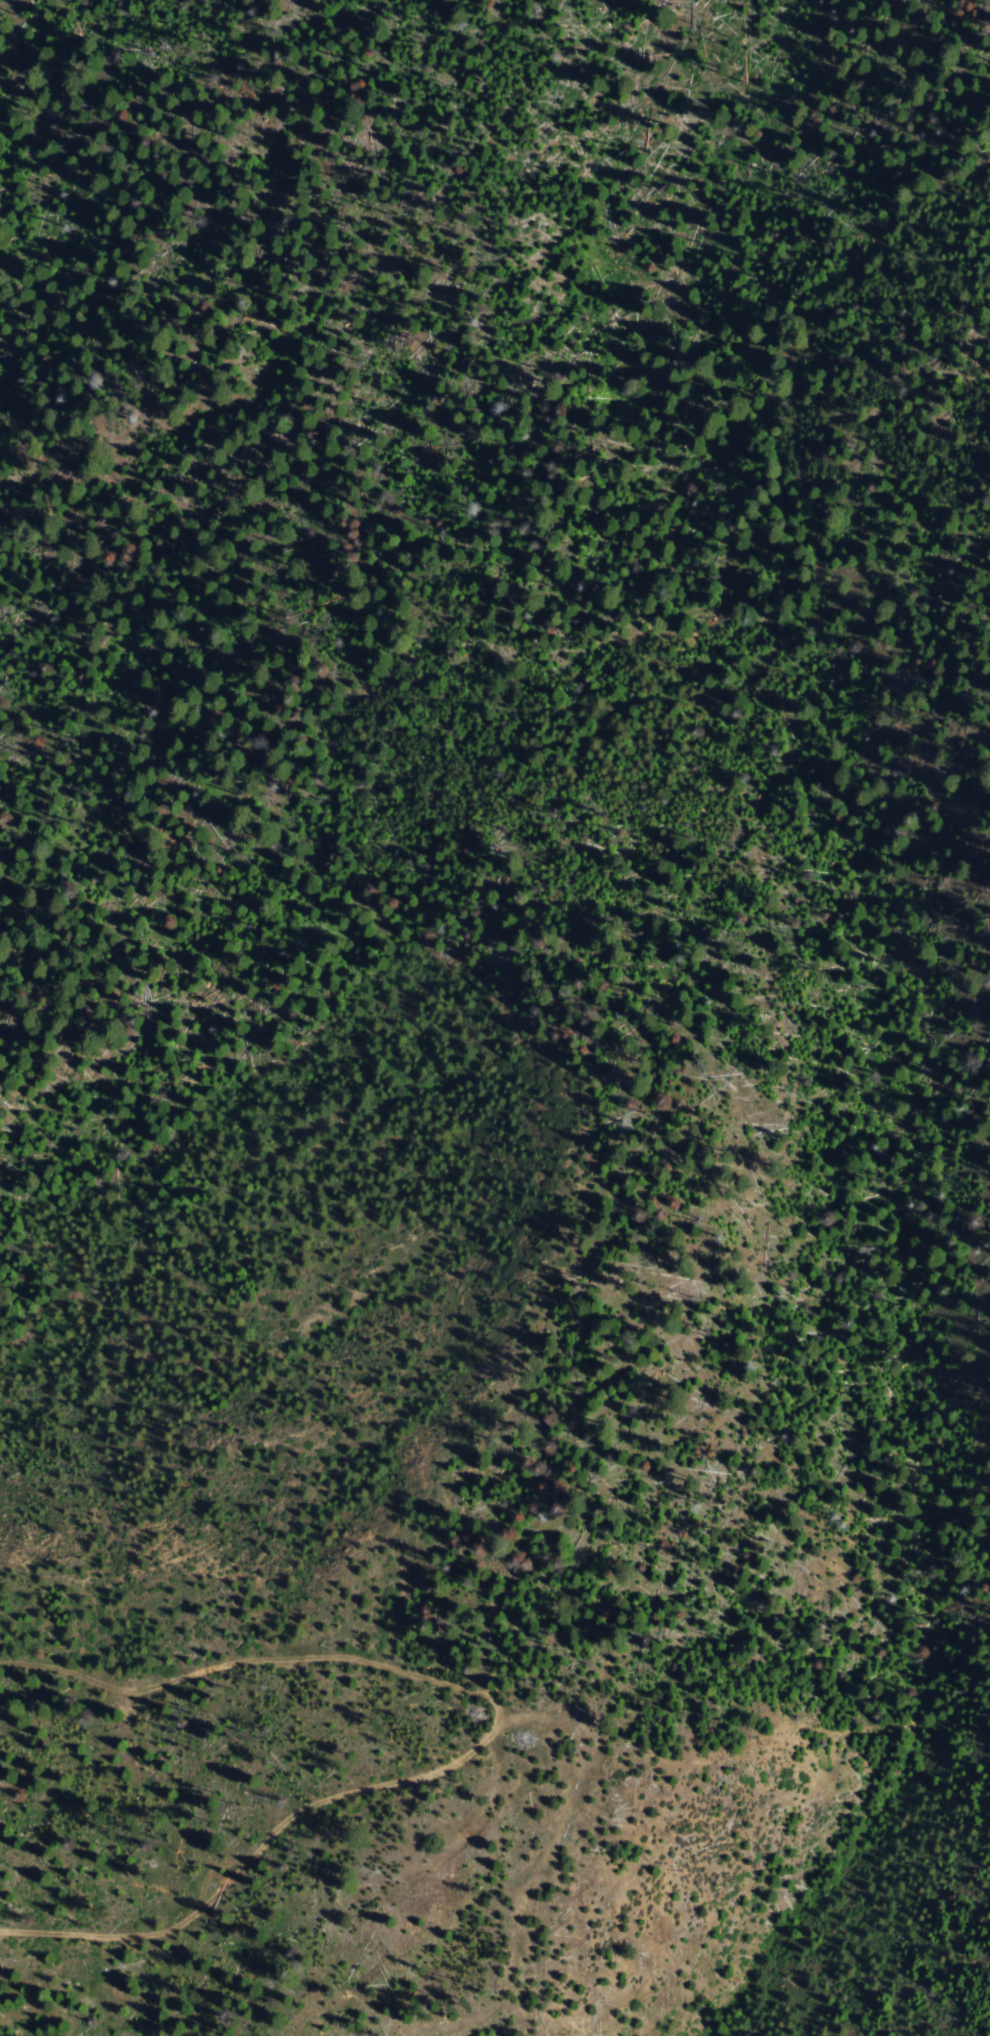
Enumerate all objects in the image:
road: (492, 1736)

